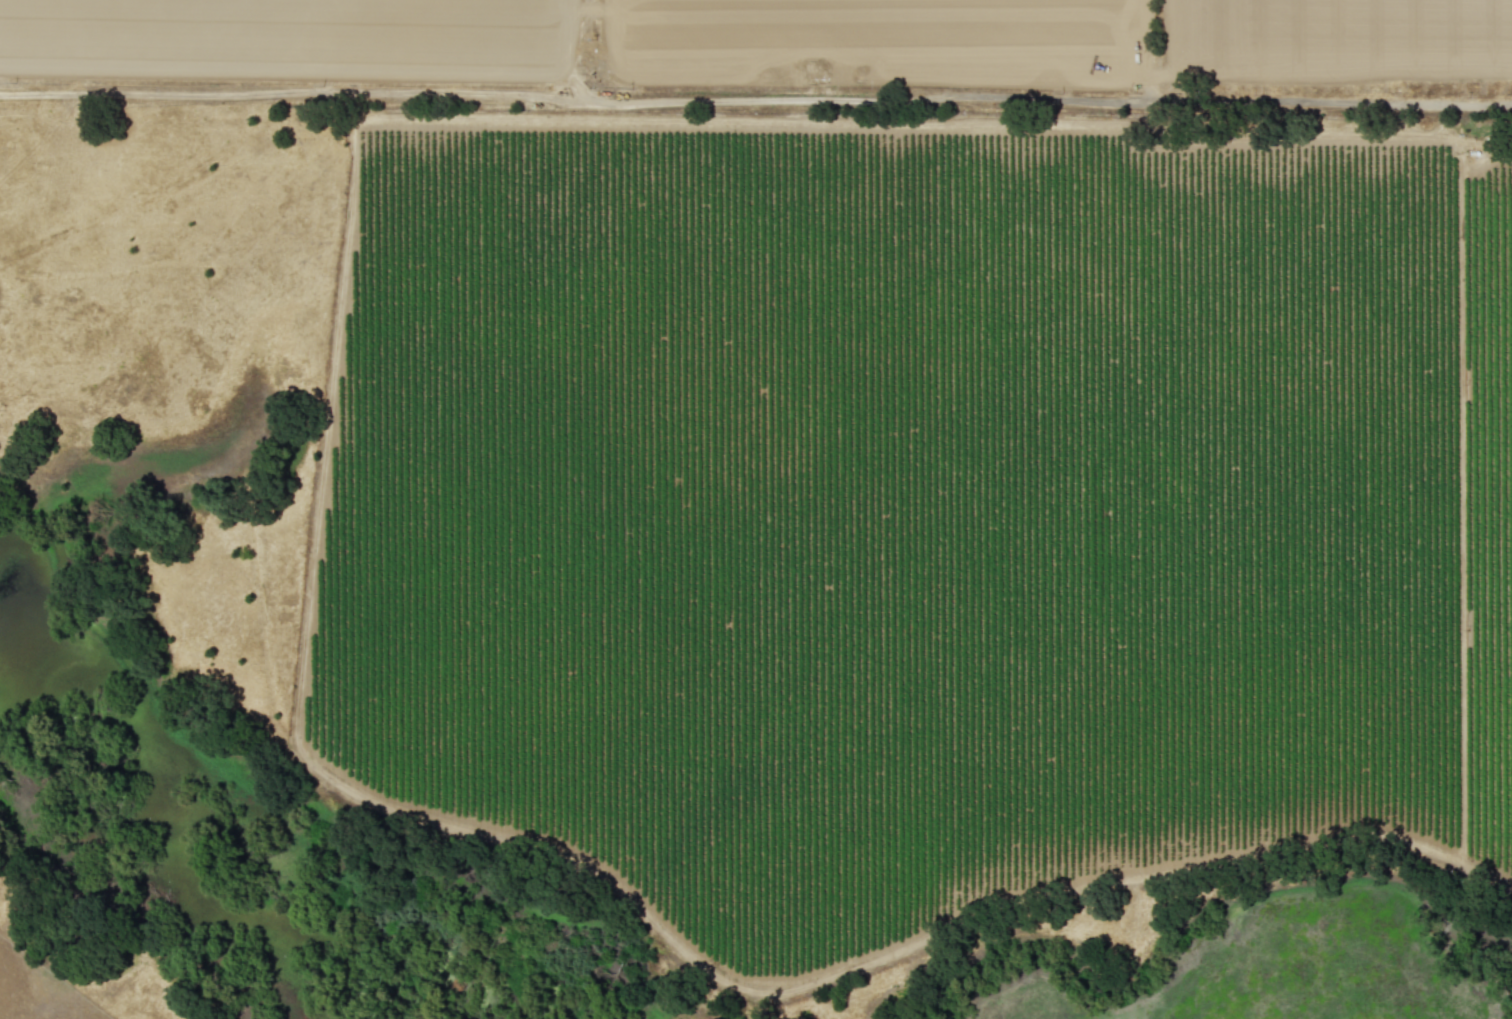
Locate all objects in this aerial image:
crop: (900, 424)

